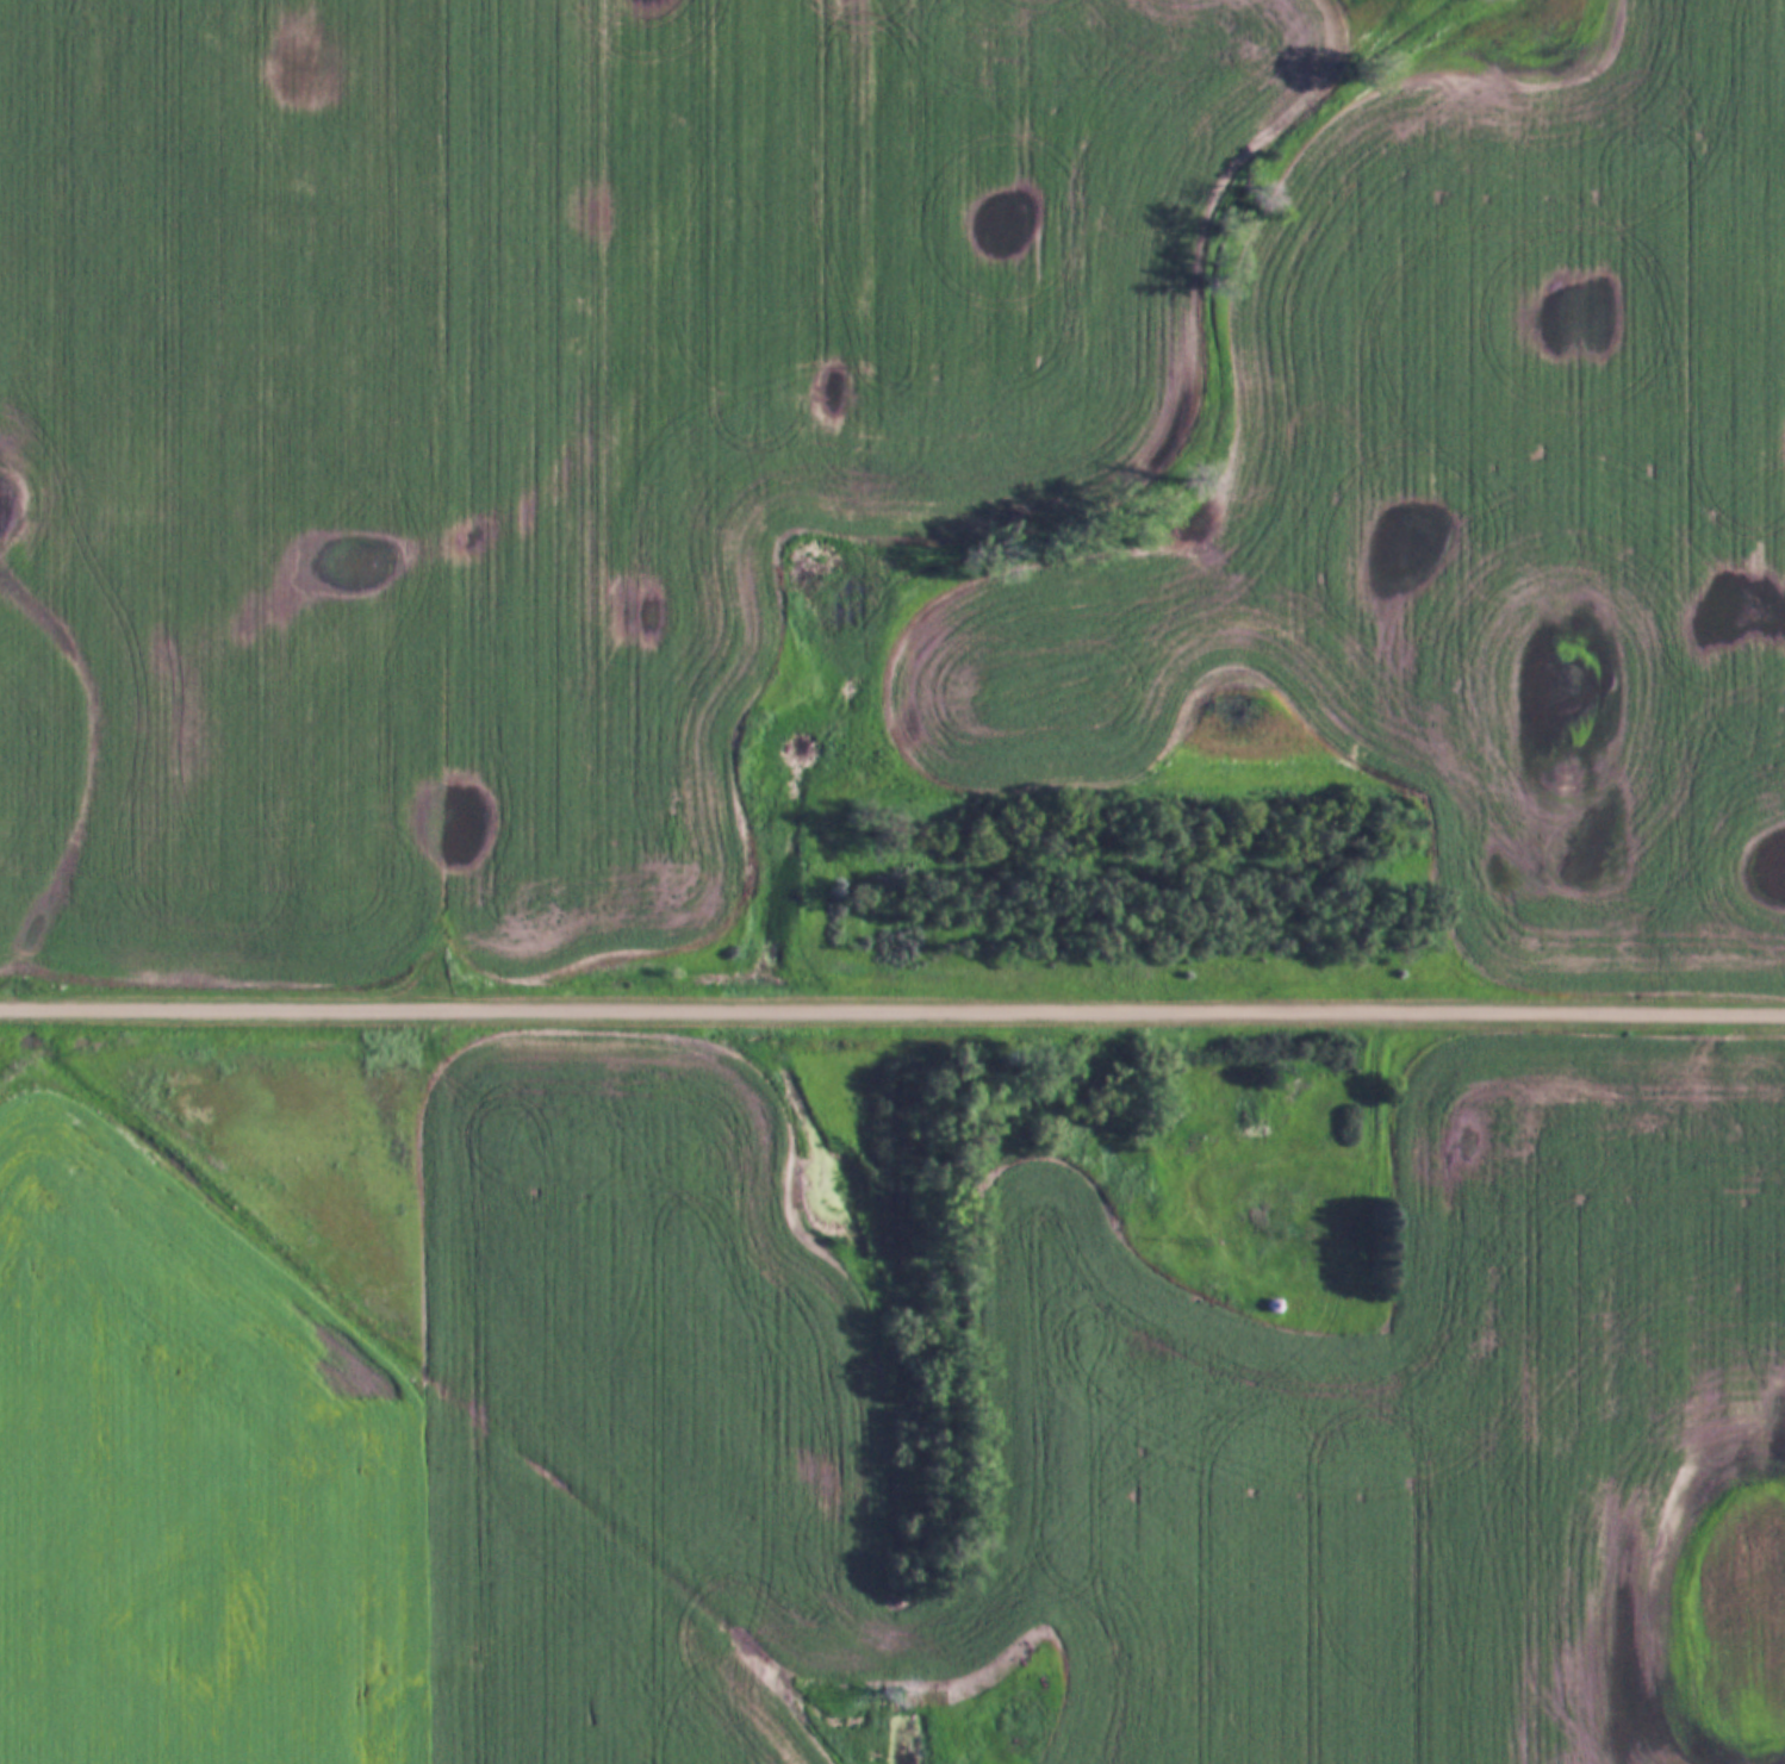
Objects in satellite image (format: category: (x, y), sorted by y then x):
road: (893, 1012)
road: (1295, 1164)

